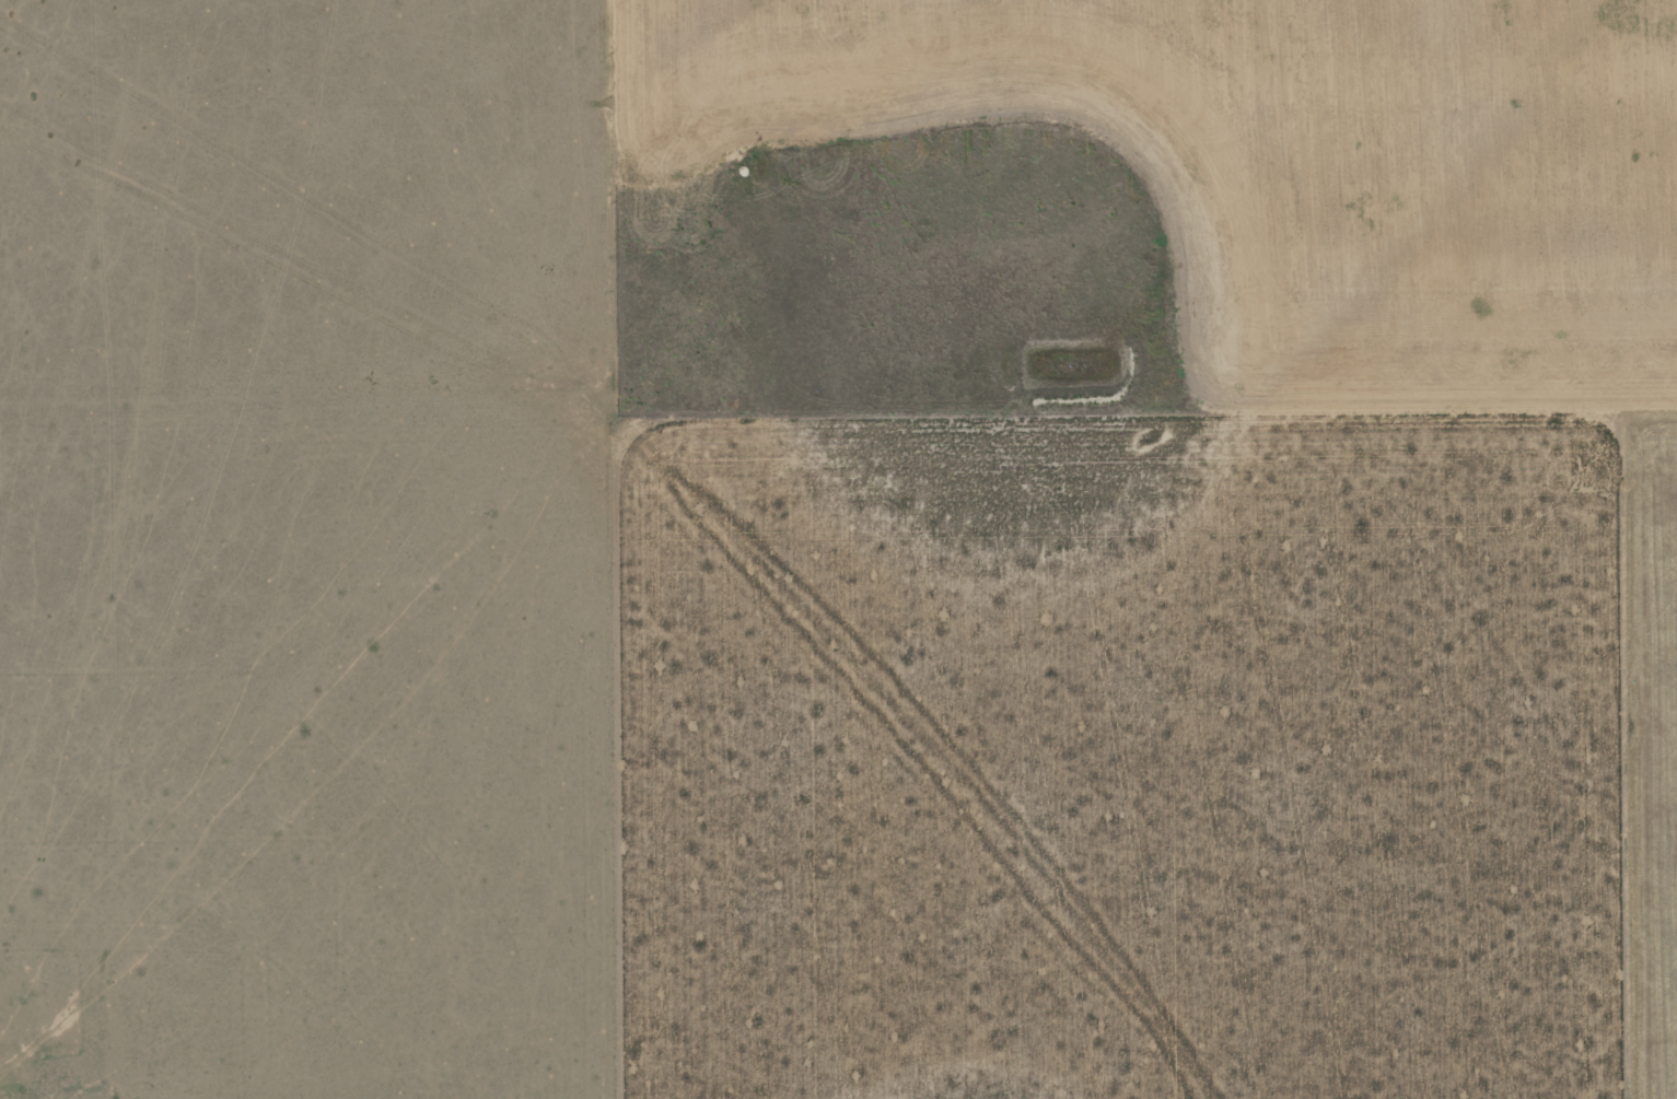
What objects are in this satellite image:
road: (23, 48)

